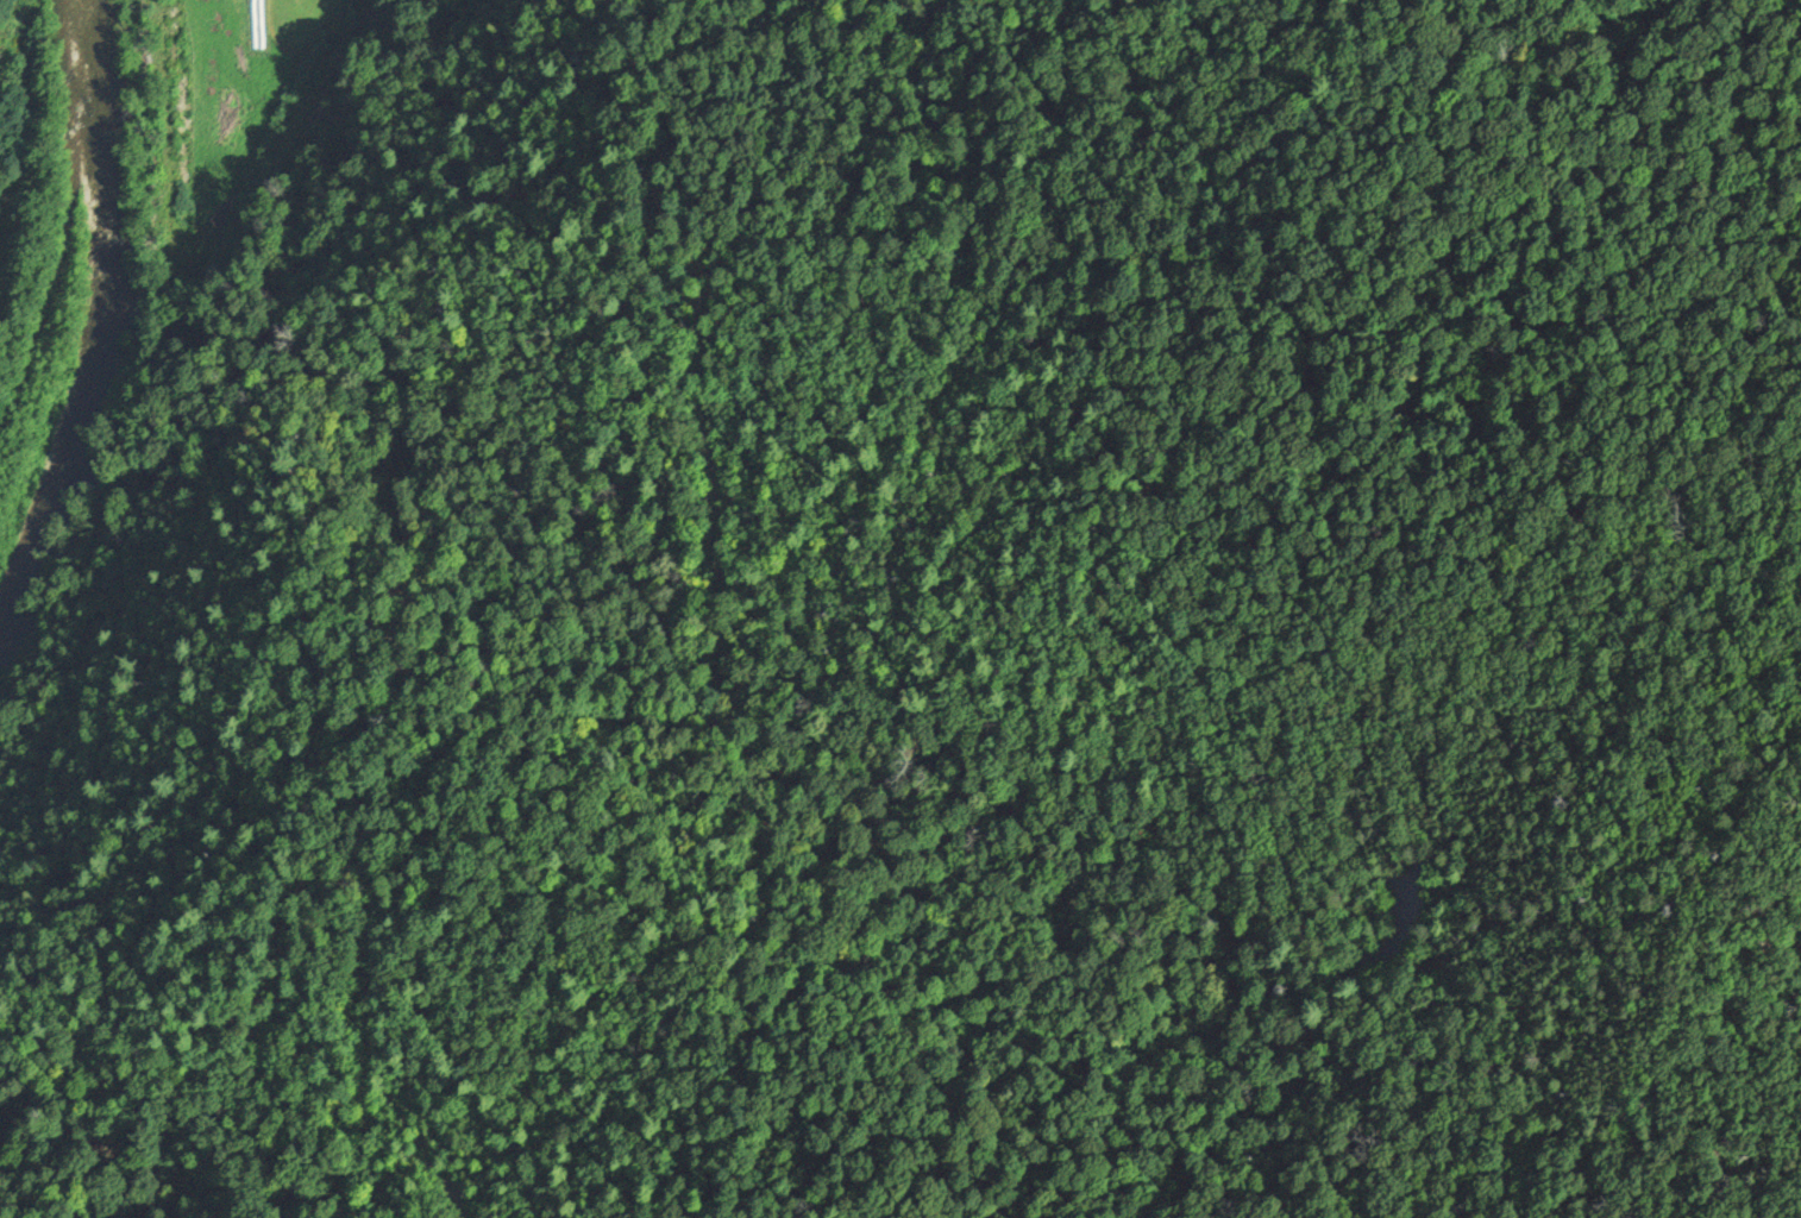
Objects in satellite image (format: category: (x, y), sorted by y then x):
crop: (297, 21)
crop: (0, 25)
river: (100, 313)

